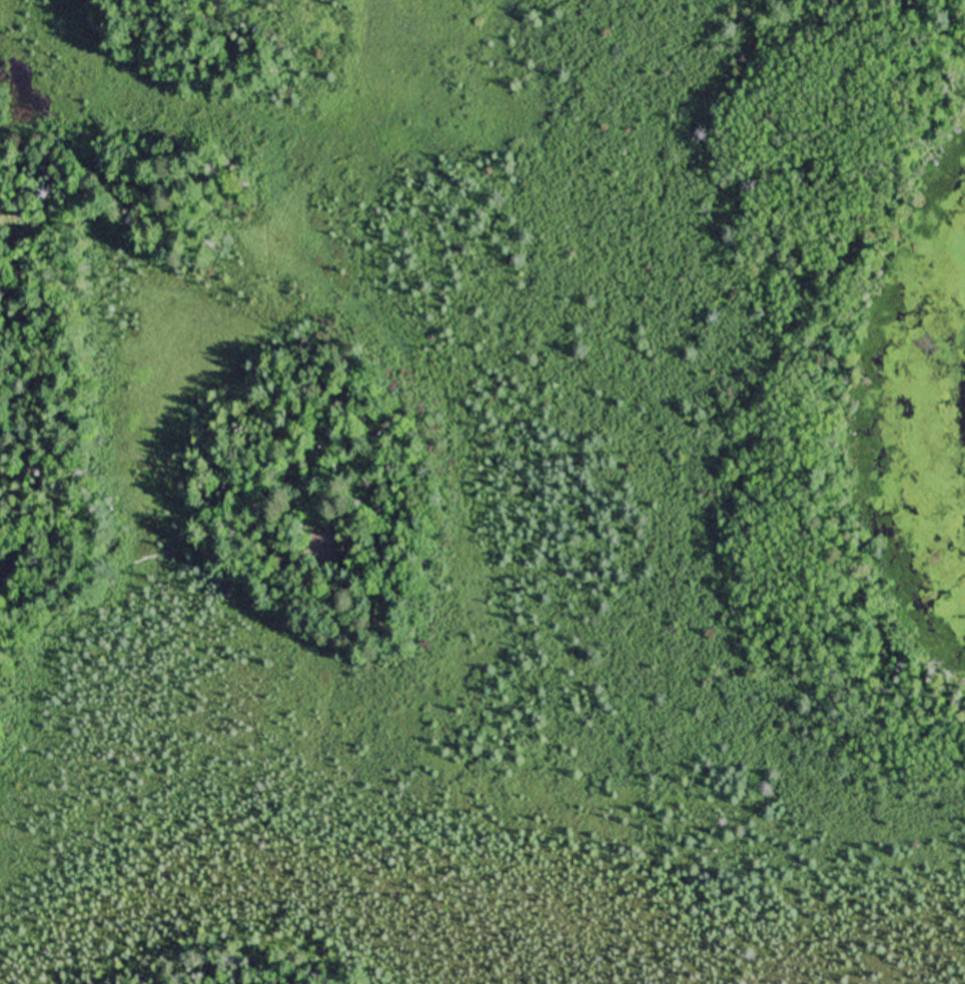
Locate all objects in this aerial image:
building: (6, 565)

